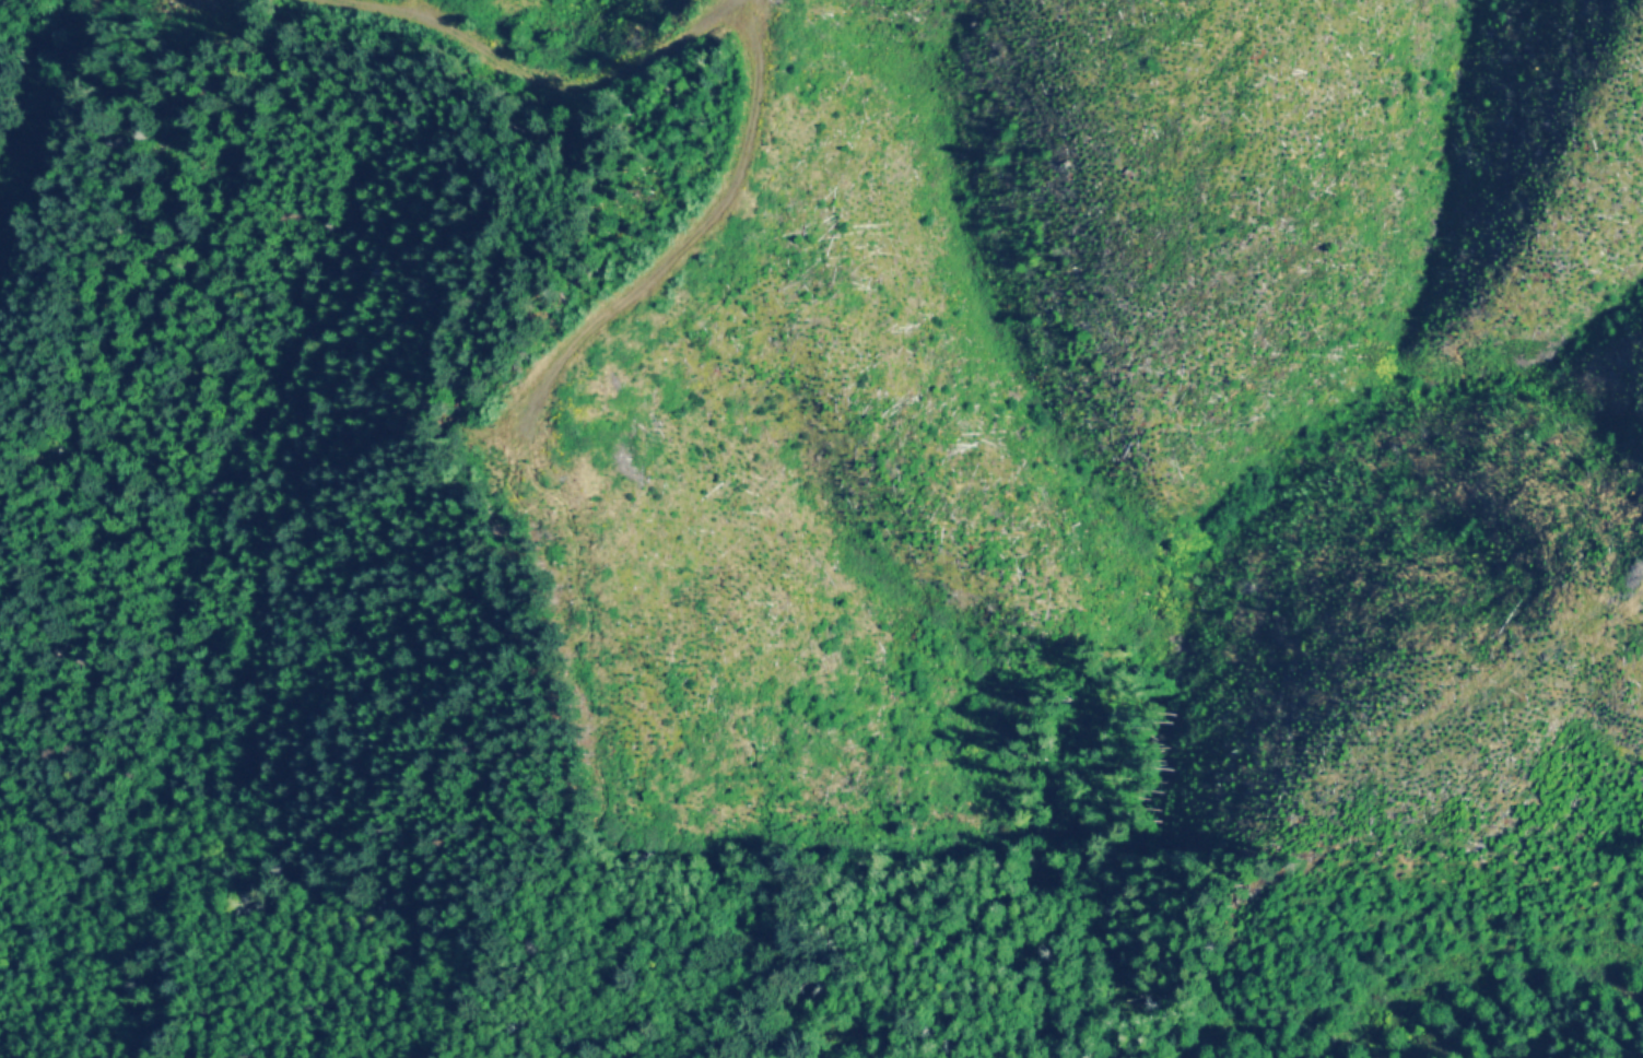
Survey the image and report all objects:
road: (547, 81)
road: (26, 162)

